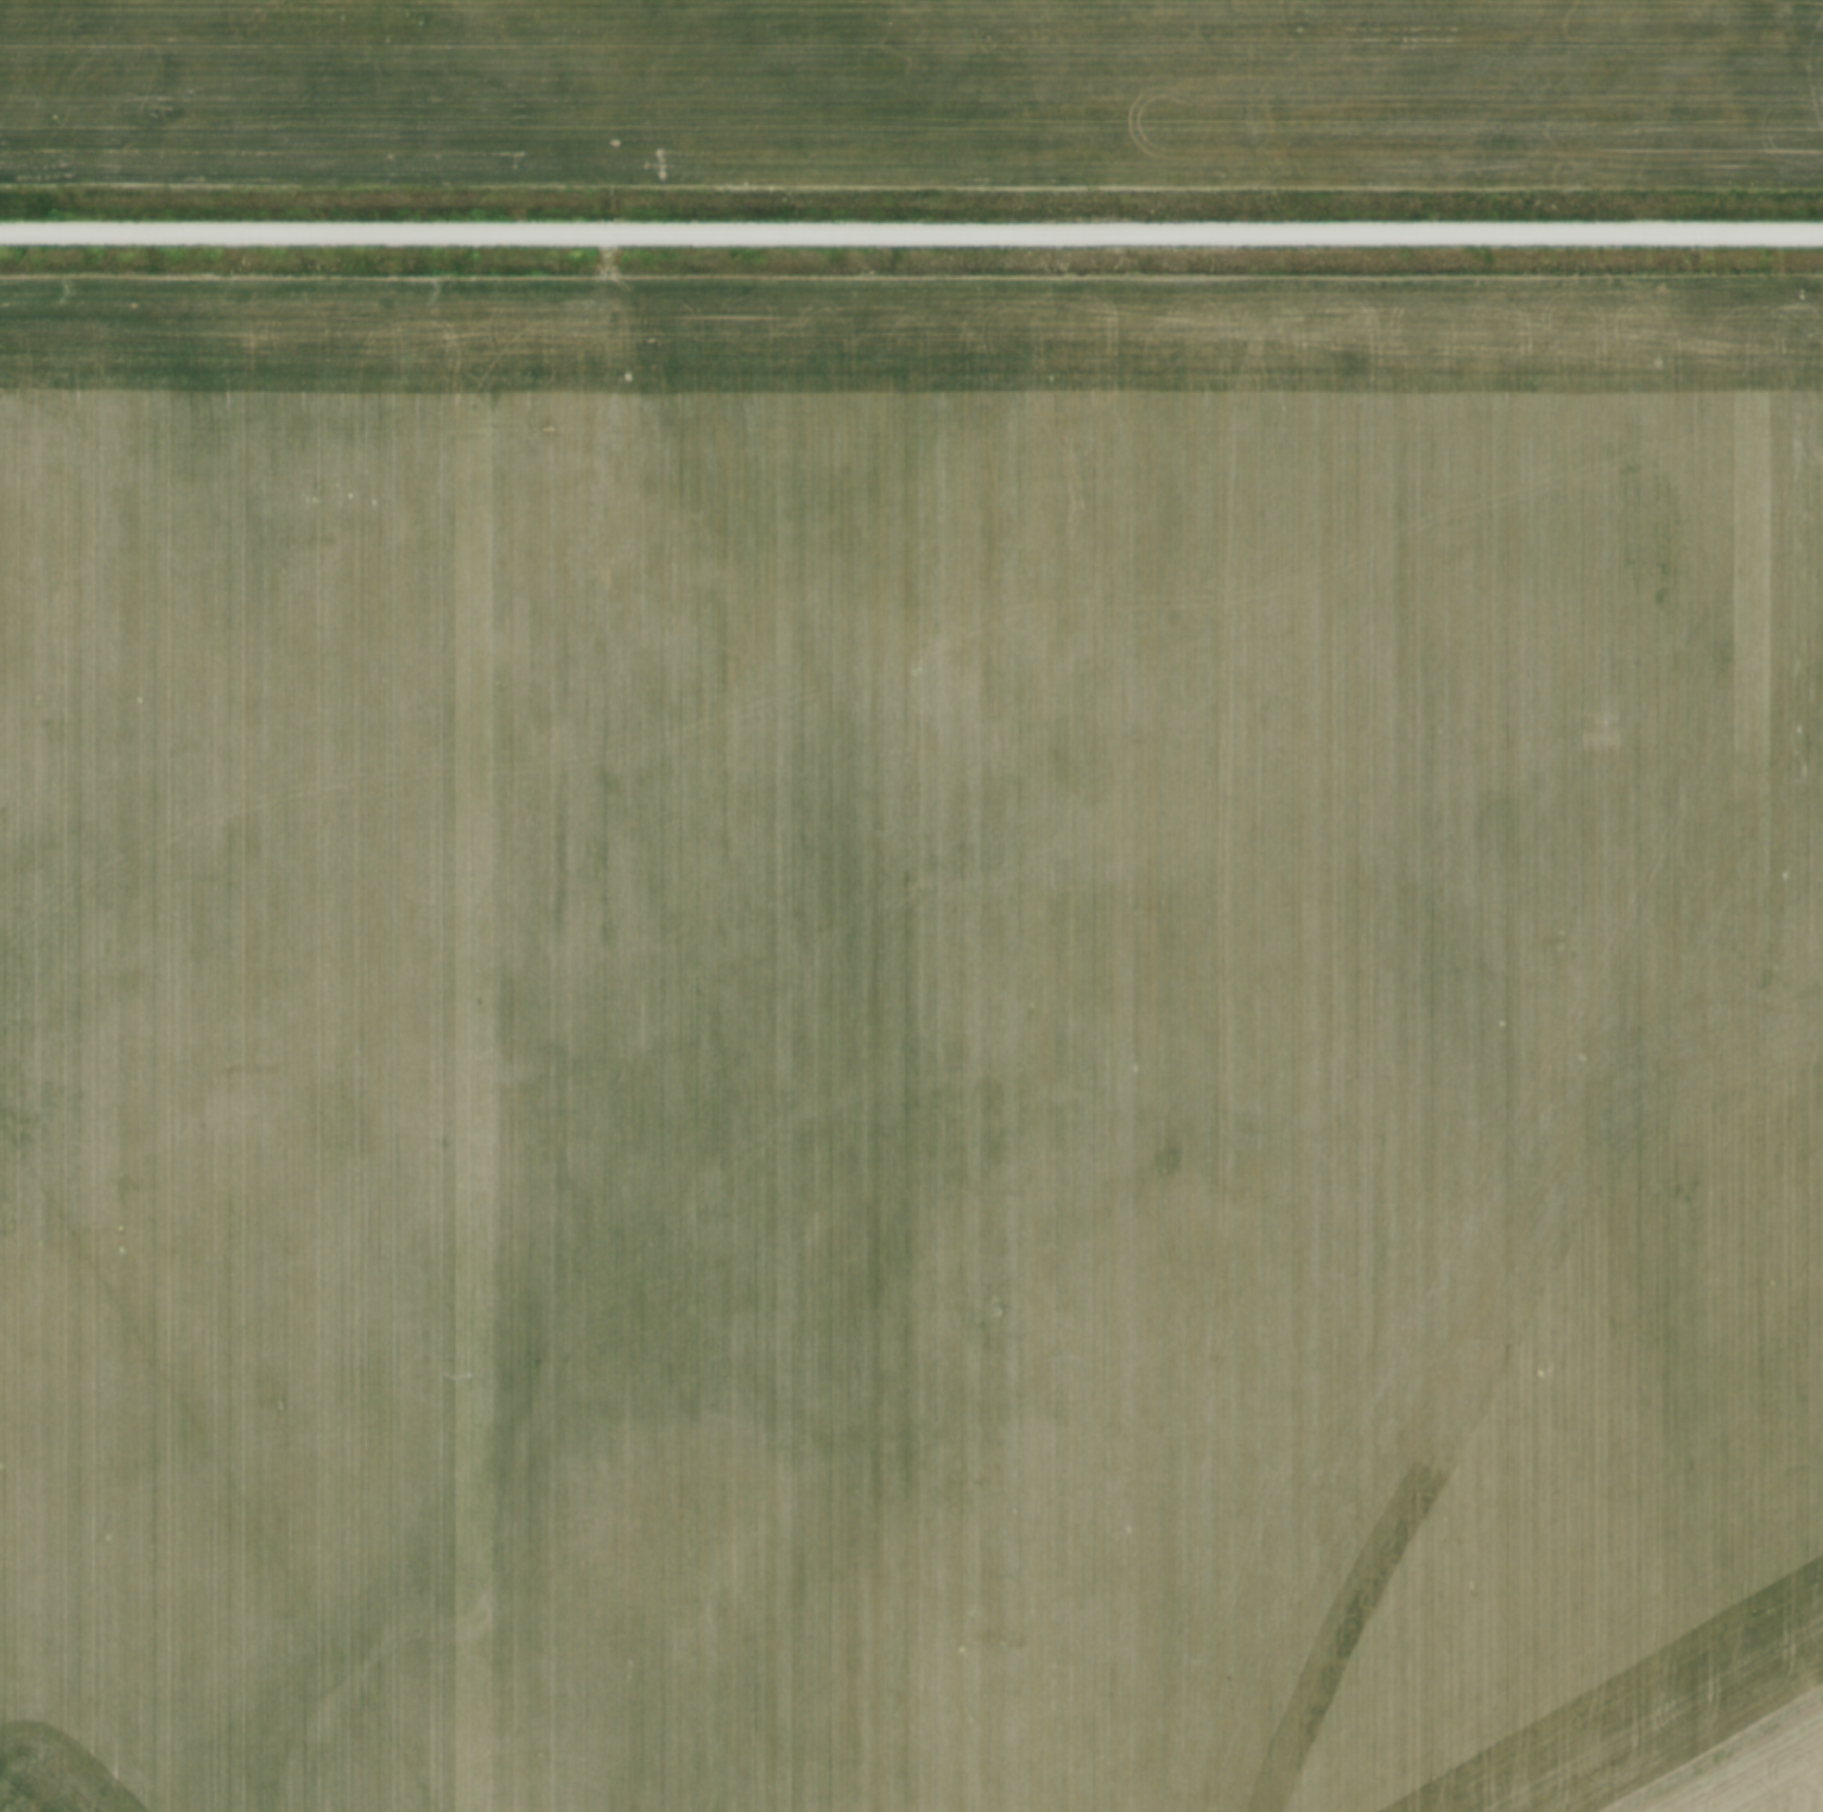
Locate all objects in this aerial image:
road: (911, 223)
crop: (905, 1032)
airport: (1740, 1763)

